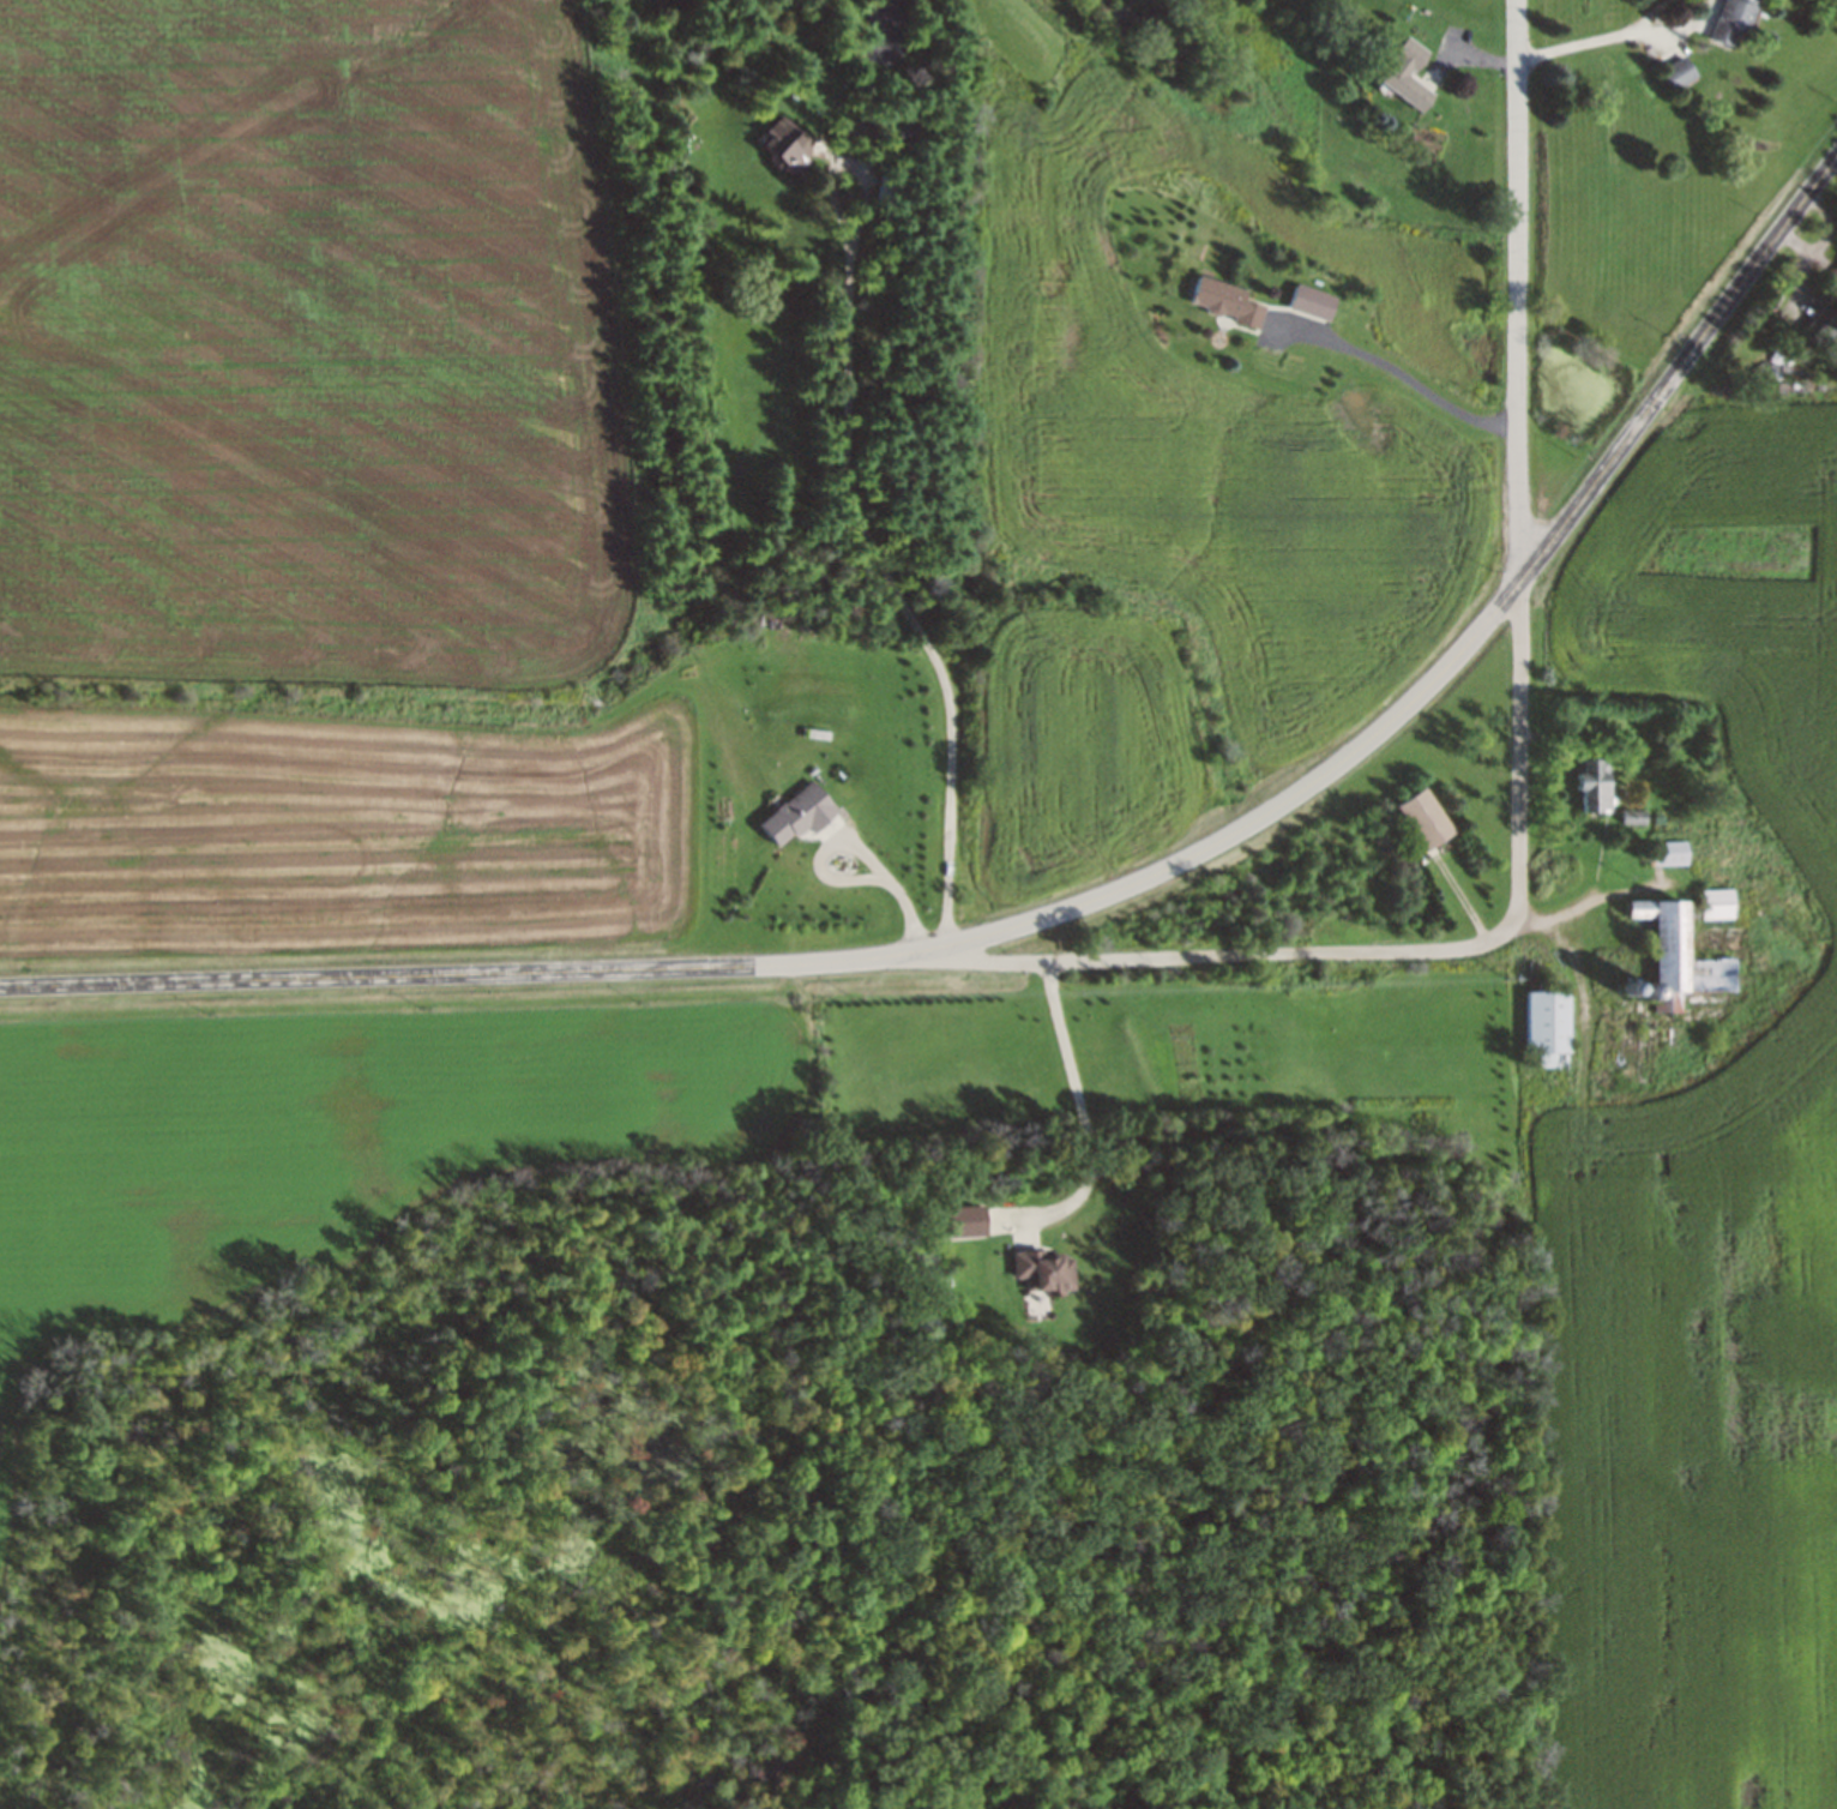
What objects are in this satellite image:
building: (1735, 22)
building: (1679, 73)
building: (1407, 76)
building: (904, 134)
building: (785, 142)
building: (1224, 301)
building: (1312, 302)
building: (1820, 329)
road: (851, 505)
road: (1520, 752)
building: (1594, 783)
building: (799, 815)
building: (1423, 817)
building: (1667, 852)
building: (1717, 903)
road: (1077, 905)
building: (1684, 955)
building: (1548, 1027)
road: (1080, 1110)
building: (1043, 1269)

